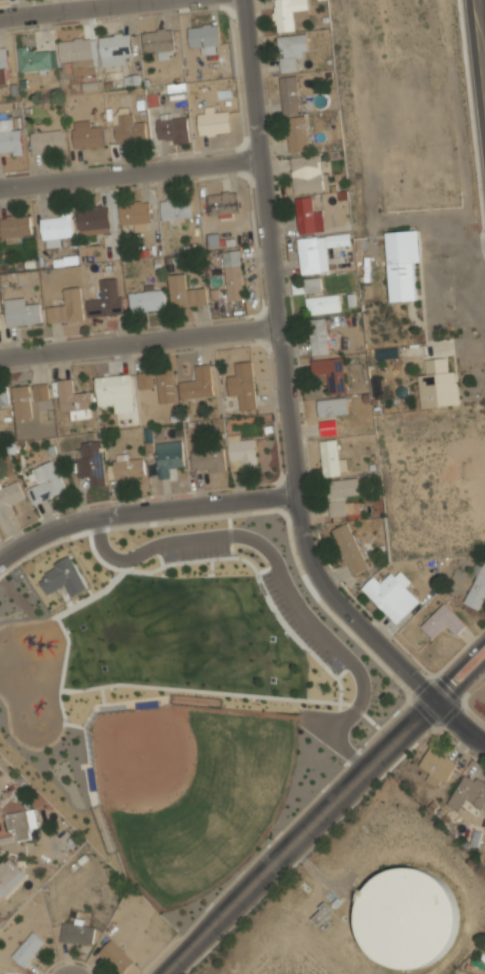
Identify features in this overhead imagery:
road: (65, 7)
building: (289, 13)
building: (203, 34)
building: (158, 41)
building: (115, 48)
building: (291, 50)
building: (77, 54)
road: (478, 54)
building: (4, 57)
building: (37, 58)
building: (292, 95)
building: (212, 120)
building: (127, 125)
building: (172, 128)
building: (297, 133)
building: (87, 137)
building: (10, 138)
building: (46, 141)
road: (127, 172)
building: (306, 173)
building: (222, 202)
building: (176, 208)
building: (134, 212)
building: (308, 216)
building: (93, 219)
building: (14, 226)
building: (55, 227)
building: (243, 236)
building: (338, 240)
building: (312, 254)
building: (401, 262)
building: (233, 274)
building: (306, 286)
building: (185, 291)
building: (106, 298)
building: (148, 299)
building: (323, 304)
building: (65, 306)
building: (21, 311)
building: (0, 322)
building: (318, 335)
road: (138, 340)
building: (331, 373)
road: (279, 374)
building: (145, 379)
building: (196, 382)
building: (438, 382)
building: (243, 383)
building: (166, 386)
building: (114, 390)
building: (41, 391)
building: (3, 395)
building: (75, 399)
building: (21, 401)
building: (332, 406)
building: (328, 426)
building: (241, 451)
building: (168, 456)
building: (329, 456)
building: (208, 460)
building: (89, 462)
building: (126, 466)
building: (45, 482)
building: (343, 487)
building: (10, 497)
road: (138, 506)
building: (338, 507)
building: (350, 548)
building: (61, 577)
building: (477, 586)
building: (391, 594)
building: (442, 621)
road: (457, 666)
road: (461, 679)
road: (458, 719)
building: (437, 766)
building: (468, 791)
building: (22, 822)
road: (297, 836)
building: (9, 875)
building: (409, 919)
storage tank: (409, 919)
building: (77, 932)
building: (28, 948)
building: (116, 956)
road: (69, 971)

